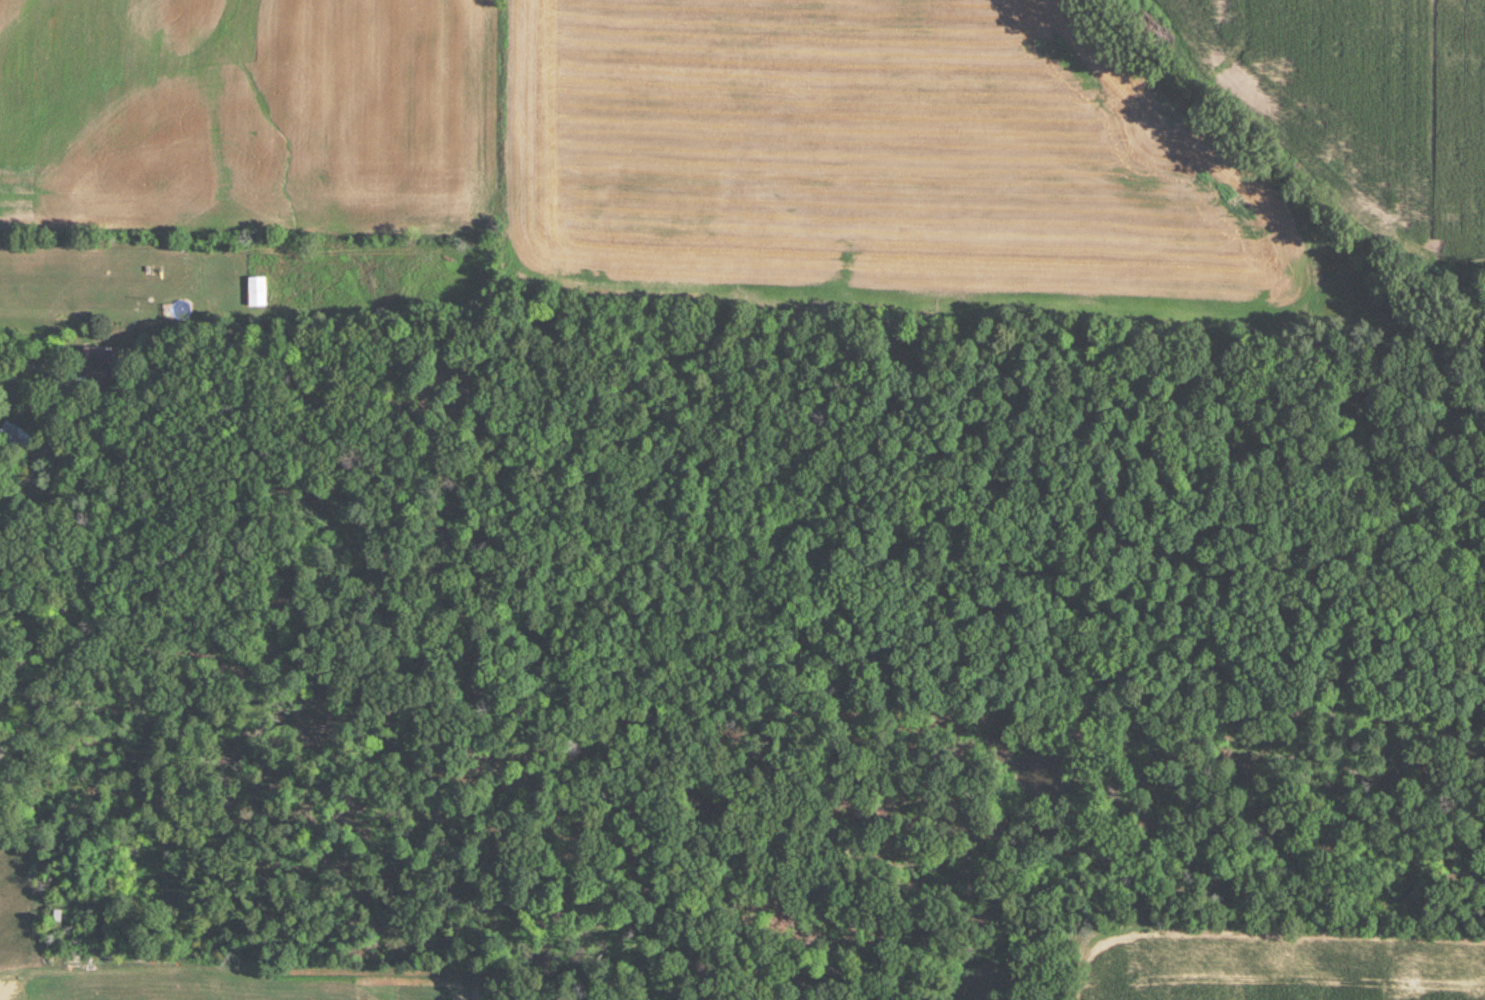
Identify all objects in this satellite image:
building: (256, 293)
building: (96, 368)

